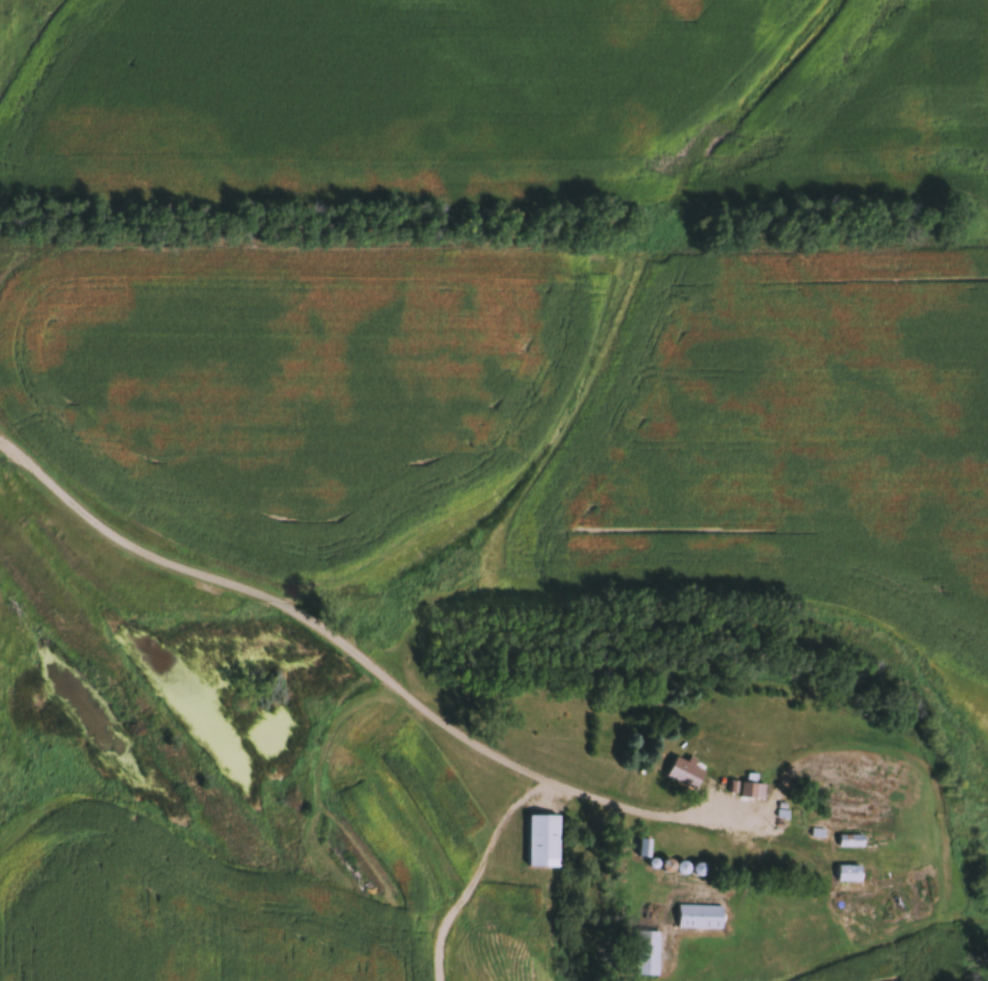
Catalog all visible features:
building: (780, 694)
building: (679, 772)
building: (749, 790)
building: (798, 815)
building: (539, 840)
building: (849, 840)
building: (641, 848)
building: (846, 872)
building: (697, 916)
building: (645, 952)

